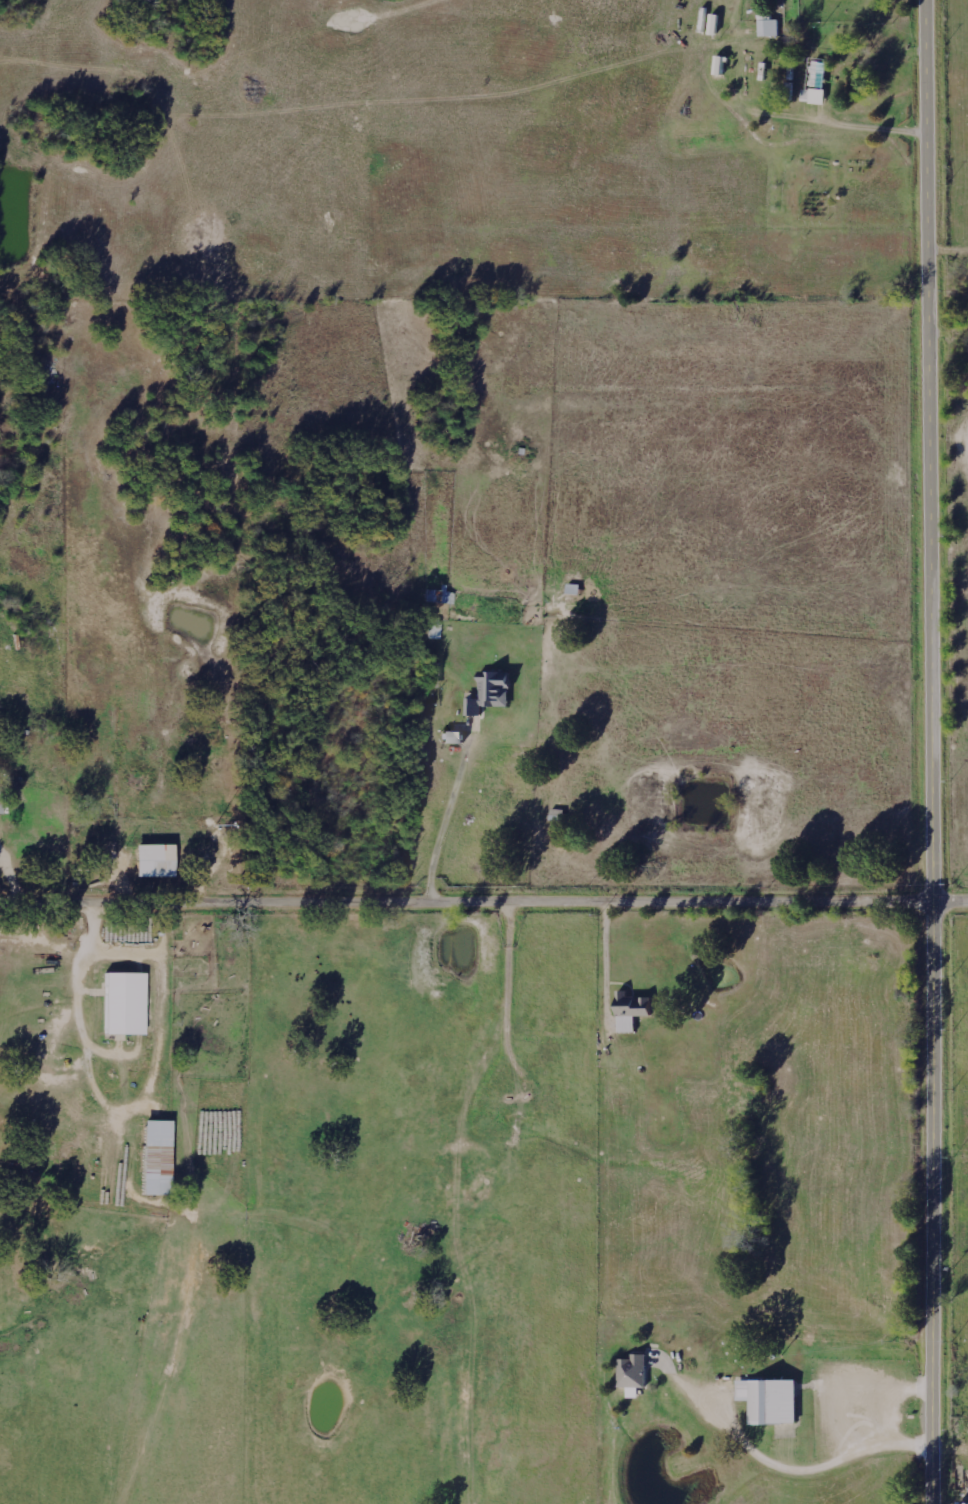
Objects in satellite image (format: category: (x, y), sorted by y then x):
building: (770, 27)
building: (818, 84)
road: (58, 525)
building: (433, 675)
building: (493, 693)
road: (934, 752)
road: (38, 794)
building: (1, 801)
building: (156, 860)
road: (483, 905)
building: (126, 1004)
building: (634, 1011)
building: (158, 1158)
building: (635, 1375)
building: (772, 1401)

